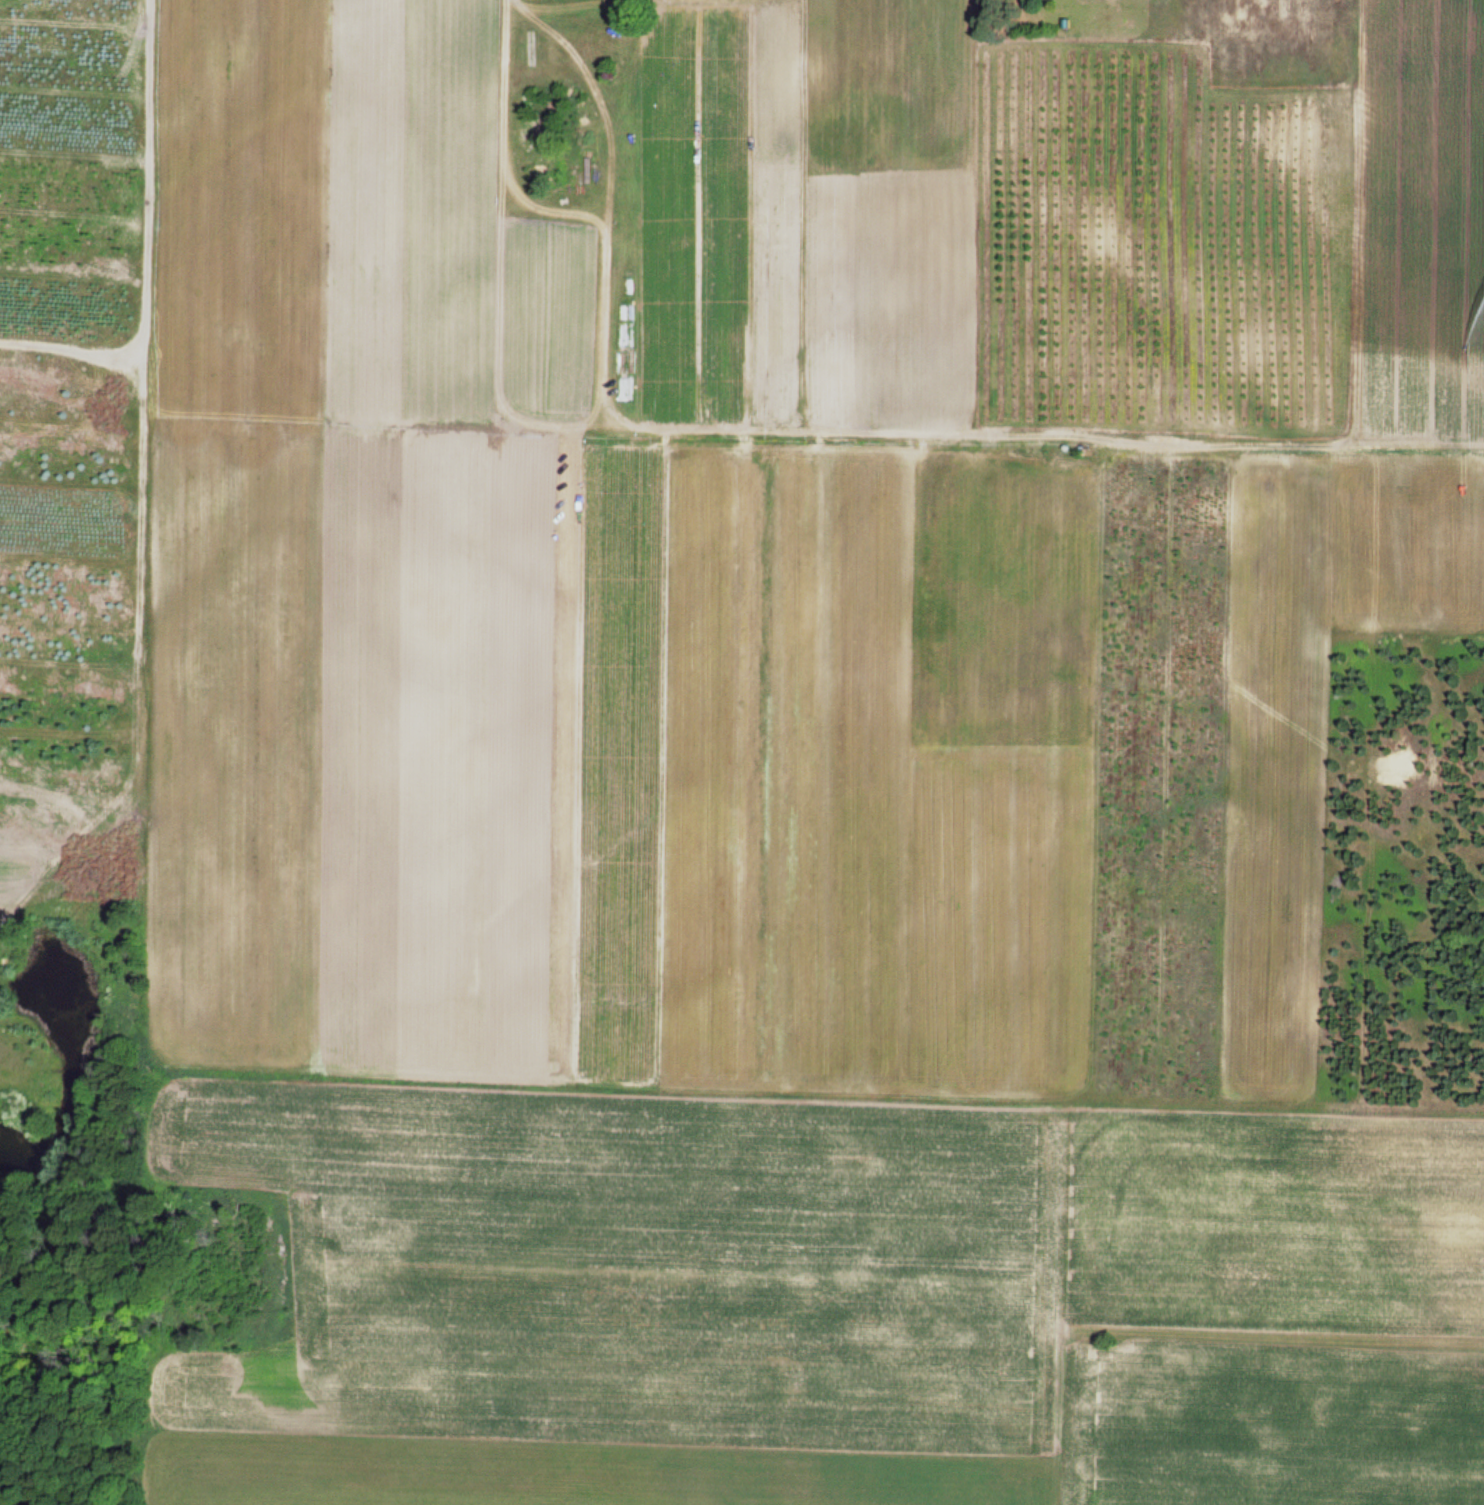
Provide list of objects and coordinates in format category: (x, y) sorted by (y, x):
building: (585, 174)

